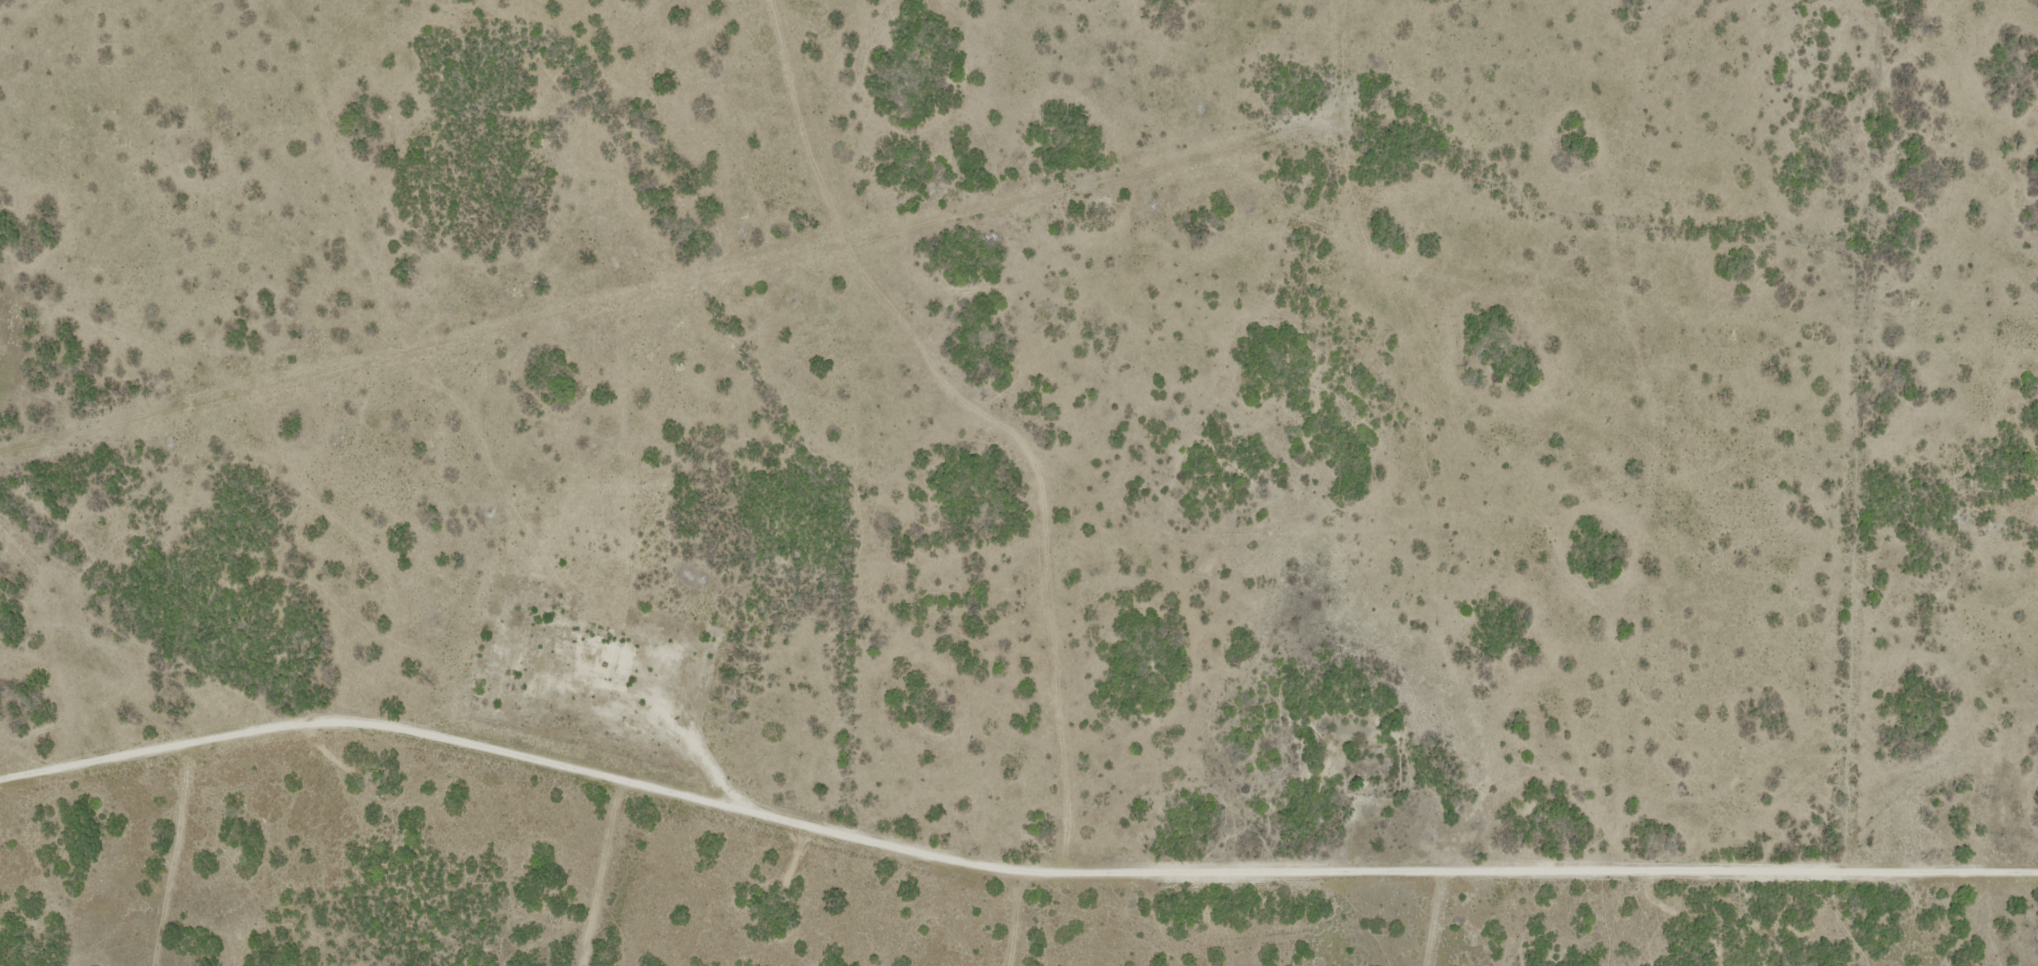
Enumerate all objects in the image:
road: (627, 877)
road: (1007, 885)

